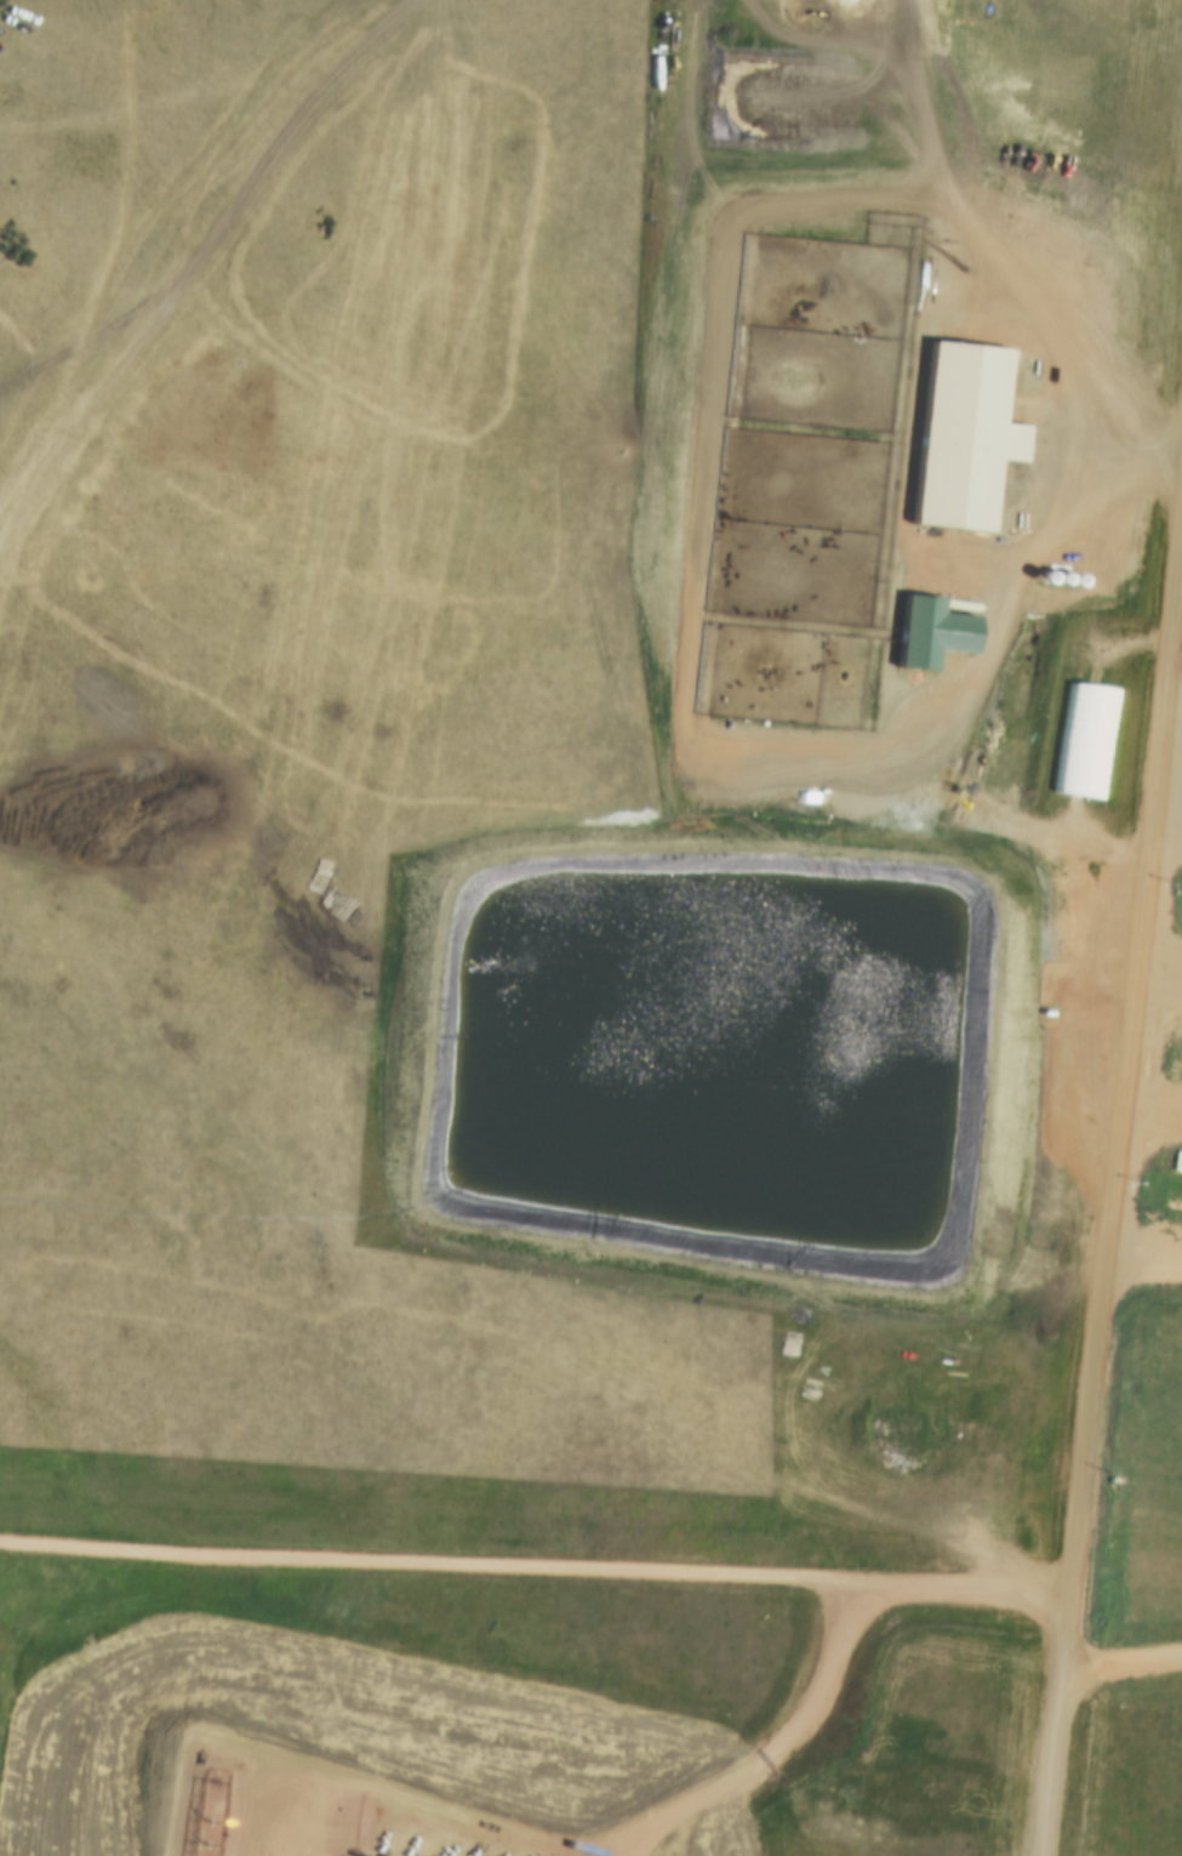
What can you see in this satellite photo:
building: (1081, 736)
building: (1075, 878)
building: (1181, 1166)
road: (1115, 1185)
road: (539, 1547)
road: (1126, 1644)

